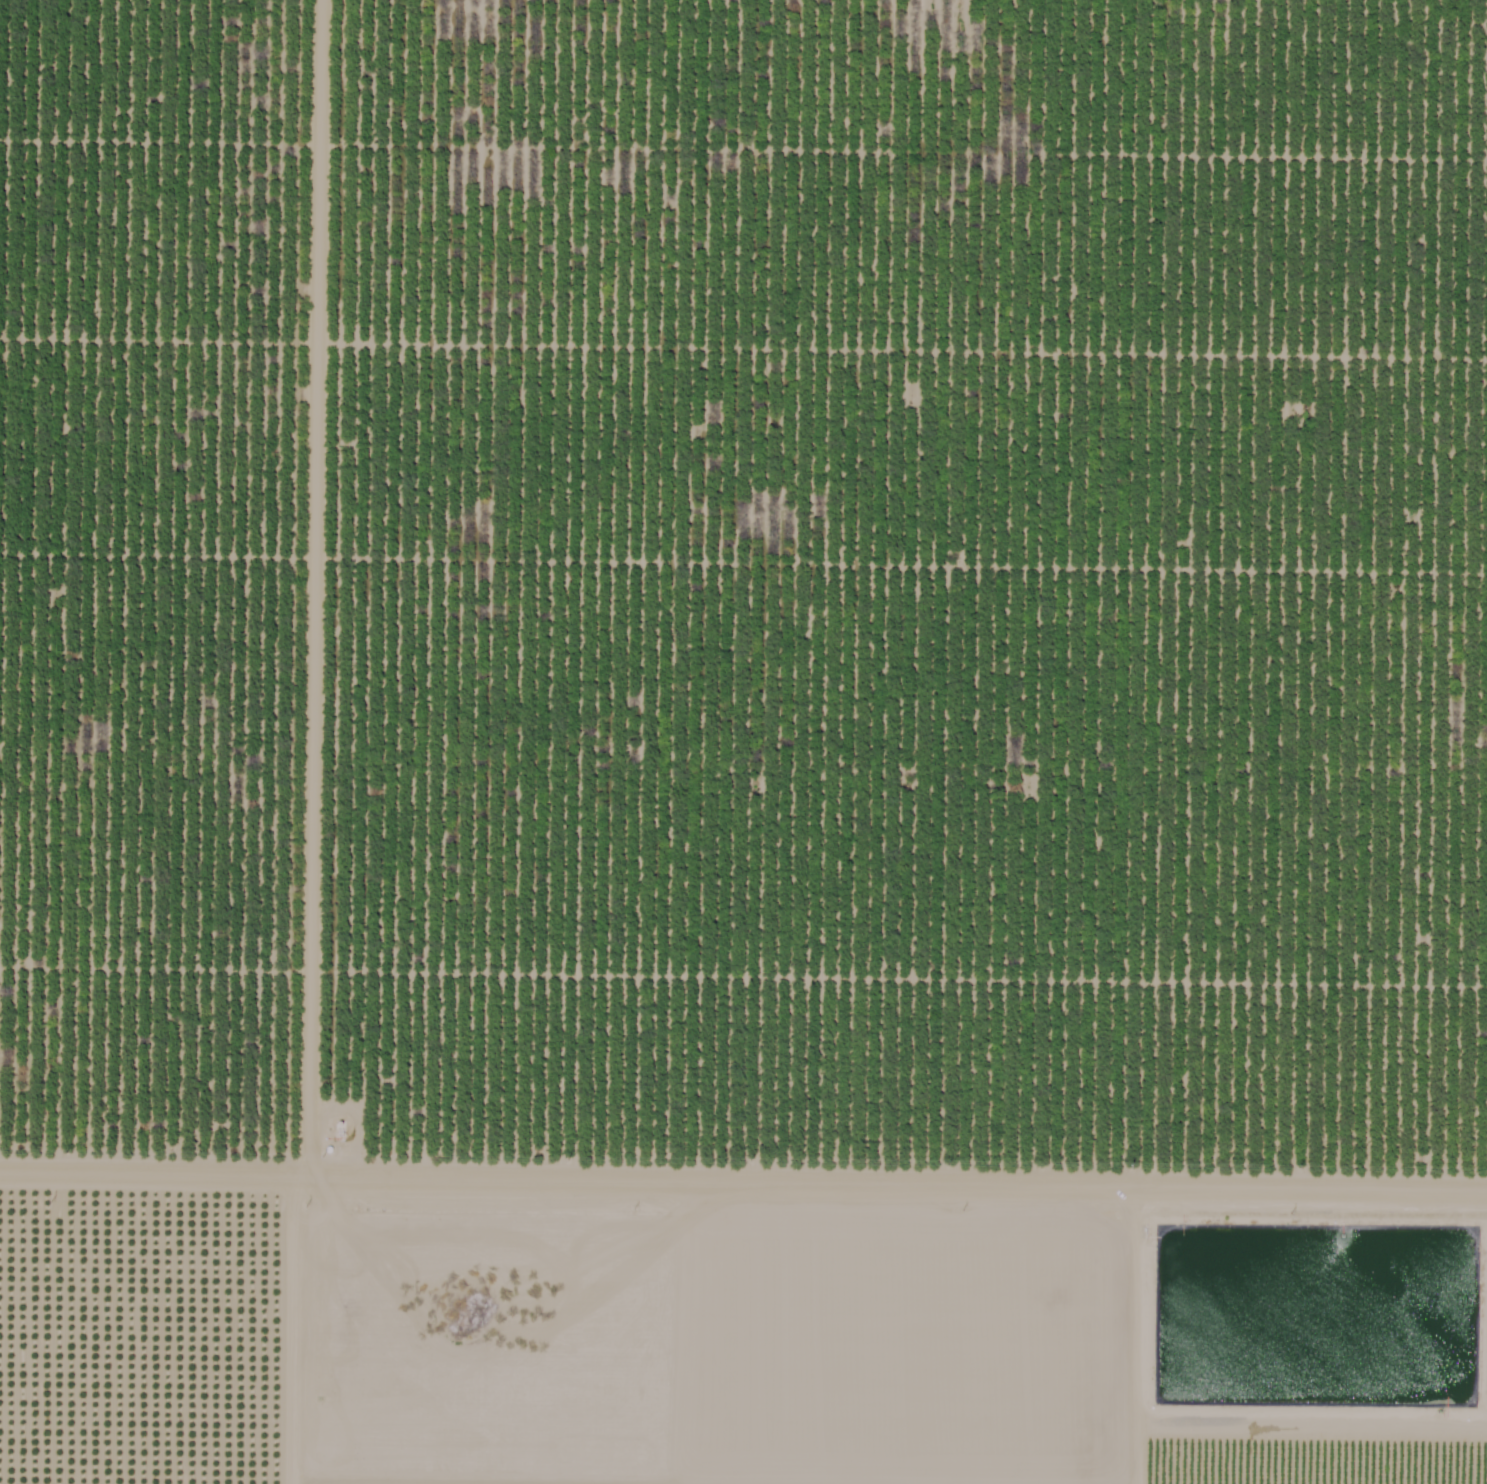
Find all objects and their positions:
road: (743, 1165)
crop: (790, 1312)
crop: (1343, 1312)

